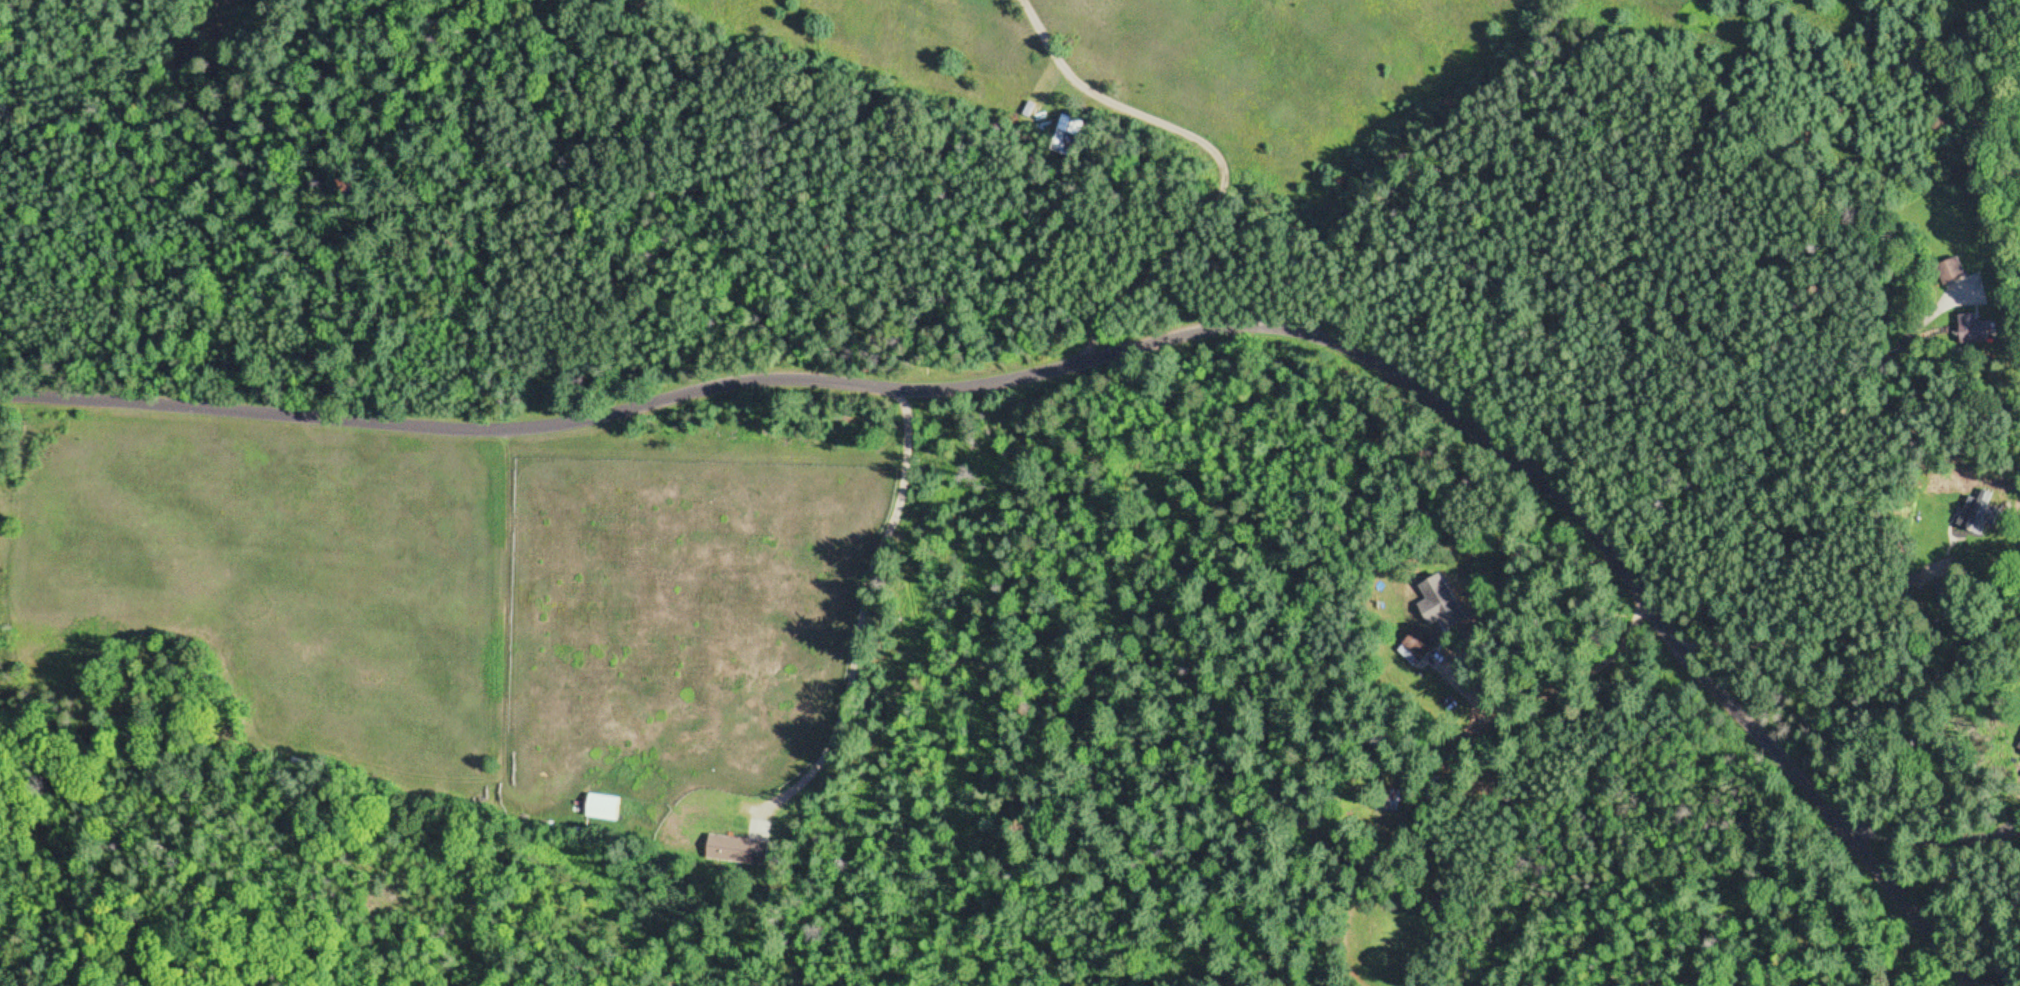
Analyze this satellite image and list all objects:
building: (1067, 136)
road: (1215, 161)
building: (1951, 272)
building: (1977, 331)
road: (1117, 352)
building: (1979, 519)
building: (1440, 595)
road: (858, 606)
building: (1411, 654)
building: (1390, 805)
building: (601, 809)
building: (733, 853)

